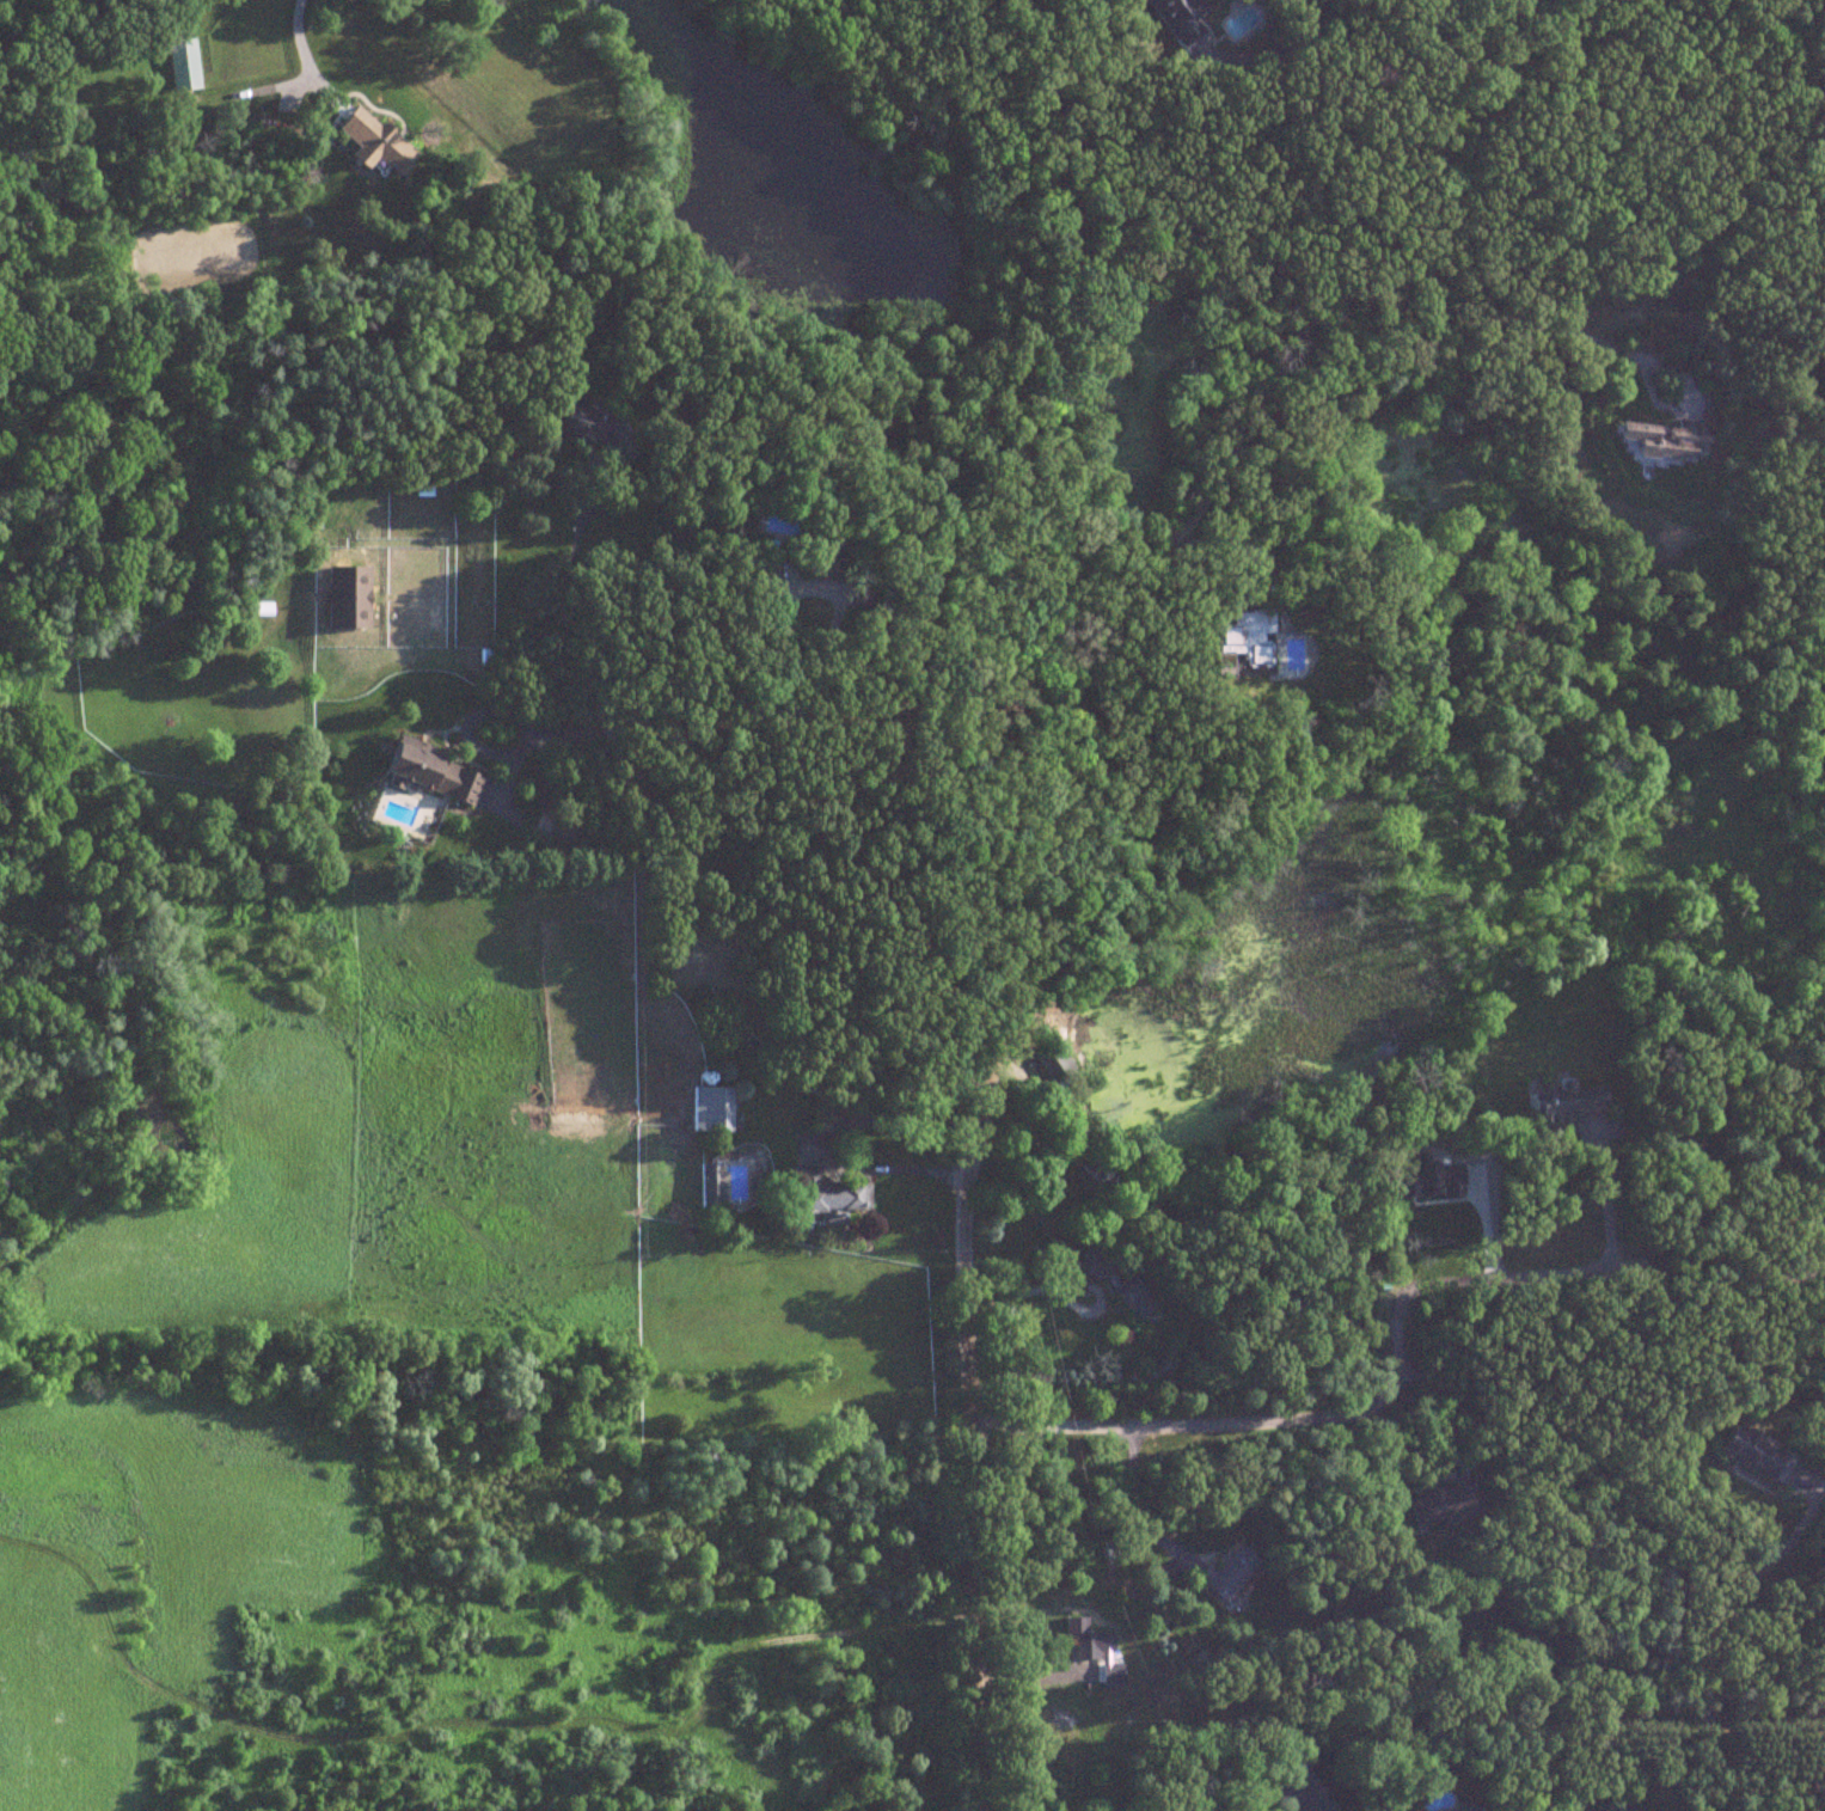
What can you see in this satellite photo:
building: (1176, 23)
road: (1446, 33)
road: (300, 49)
road: (1555, 59)
building: (182, 65)
building: (372, 140)
road: (1341, 299)
building: (1660, 441)
road: (797, 587)
building: (345, 596)
road: (577, 596)
building: (1236, 653)
road: (768, 710)
building: (425, 771)
road: (1031, 879)
building: (1052, 1060)
building: (1564, 1103)
building: (708, 1108)
road: (1707, 1125)
road: (822, 1136)
building: (1096, 1175)
building: (709, 1185)
building: (823, 1194)
road: (1606, 1203)
building: (1818, 1212)
road: (1070, 1283)
building: (1131, 1293)
road: (1395, 1339)
road: (1443, 1411)
building: (1753, 1455)
road: (1135, 1495)
building: (1443, 1505)
building: (1110, 1549)
road: (1676, 1565)
road: (1763, 1565)
building: (1223, 1573)
building: (1089, 1641)
building: (1462, 1807)

